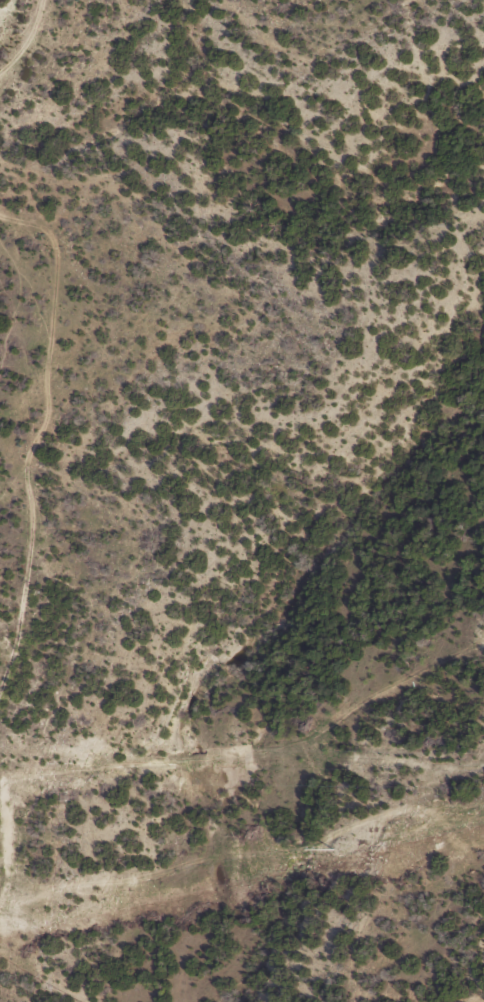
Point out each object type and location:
power tower: (329, 850)

